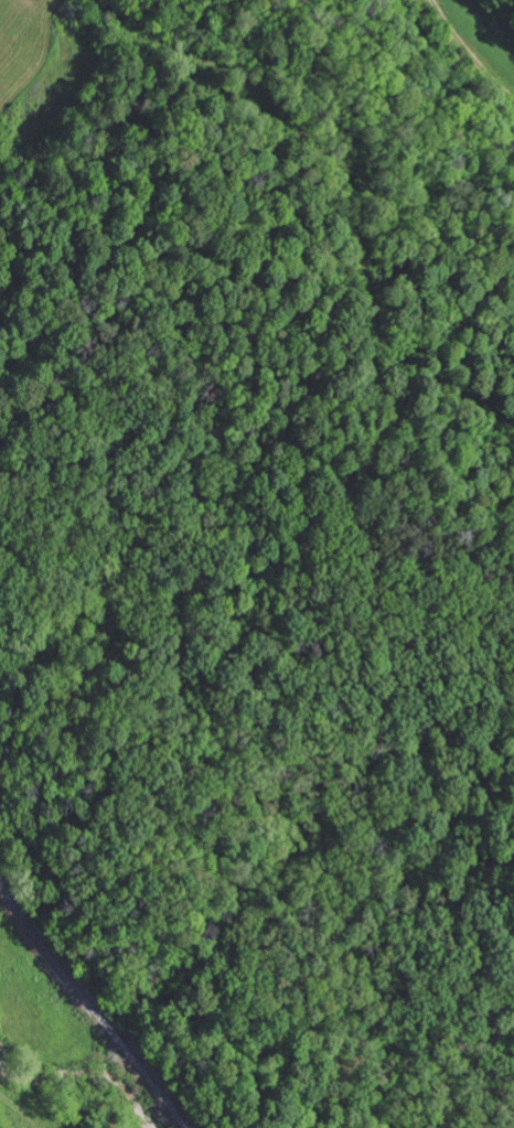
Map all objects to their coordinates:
road: (433, 2)
road: (90, 1002)

